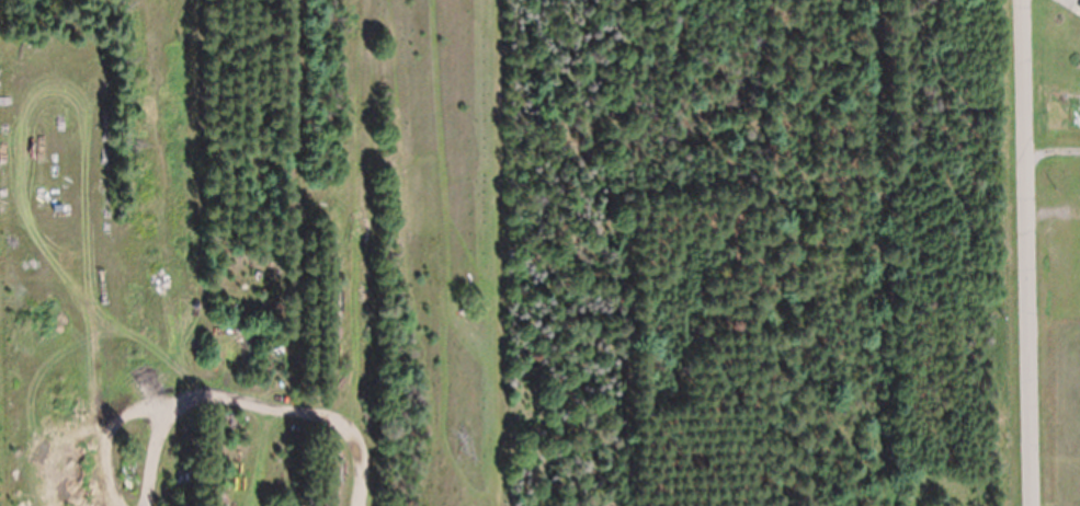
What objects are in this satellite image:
building: (294, 182)
road: (1028, 253)
building: (334, 266)
building: (220, 306)
building: (238, 368)
building: (230, 369)
building: (253, 369)
building: (247, 370)
building: (342, 372)
building: (229, 421)
building: (251, 422)
building: (245, 424)
building: (220, 493)
building: (220, 499)

